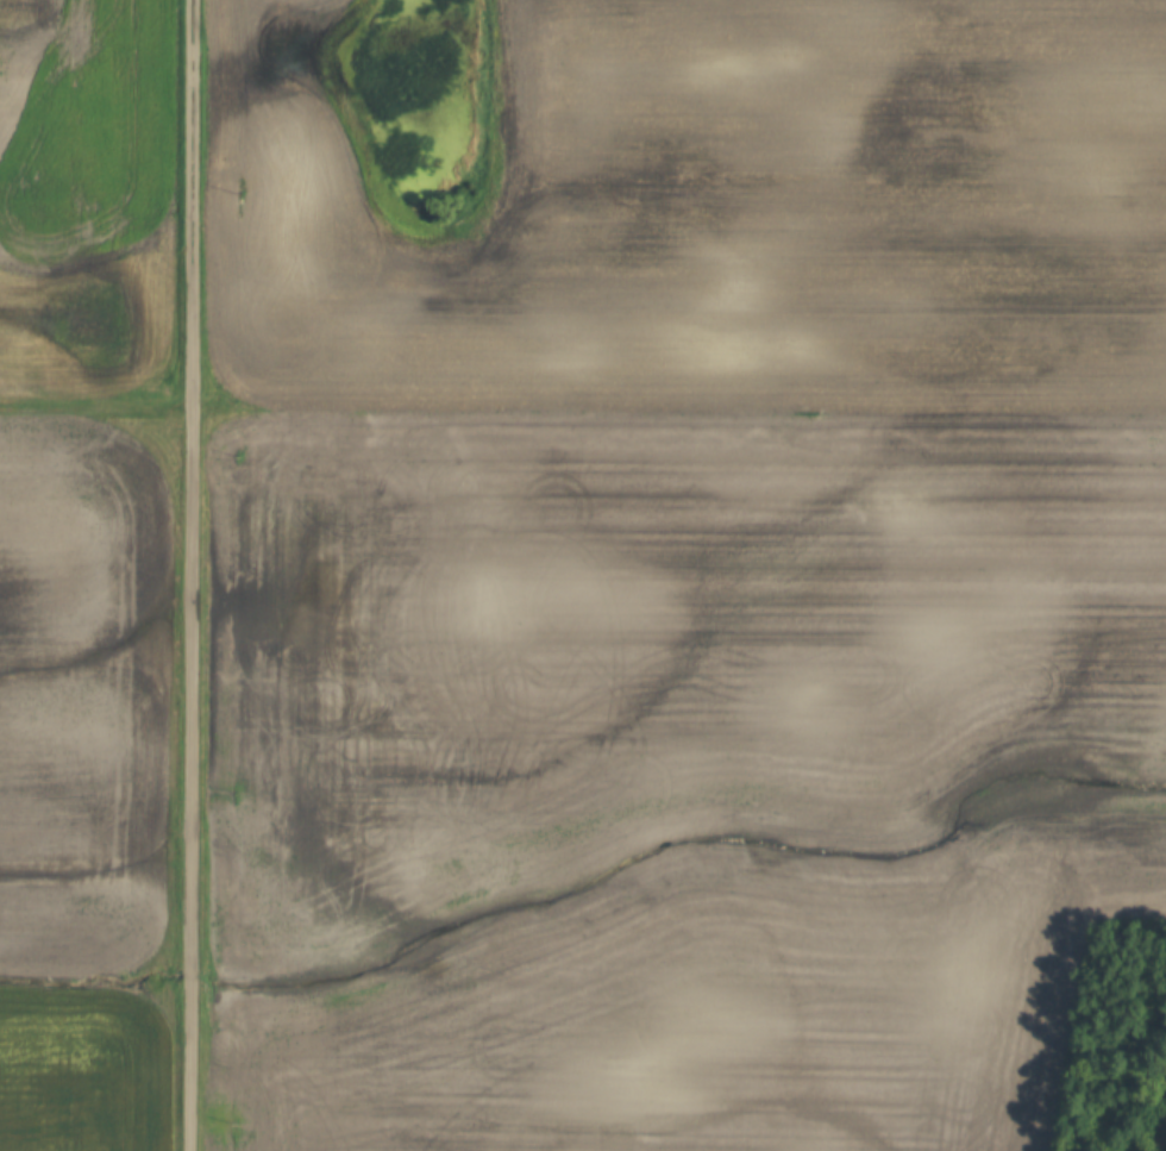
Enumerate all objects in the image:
road: (96, 411)
road: (194, 575)

